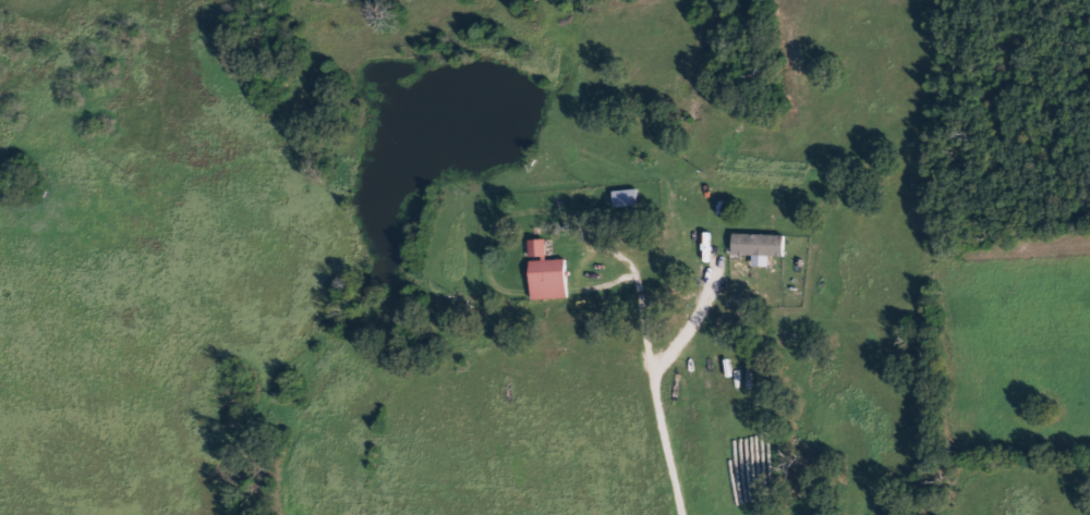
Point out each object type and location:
building: (629, 199)
building: (763, 248)
building: (552, 274)

